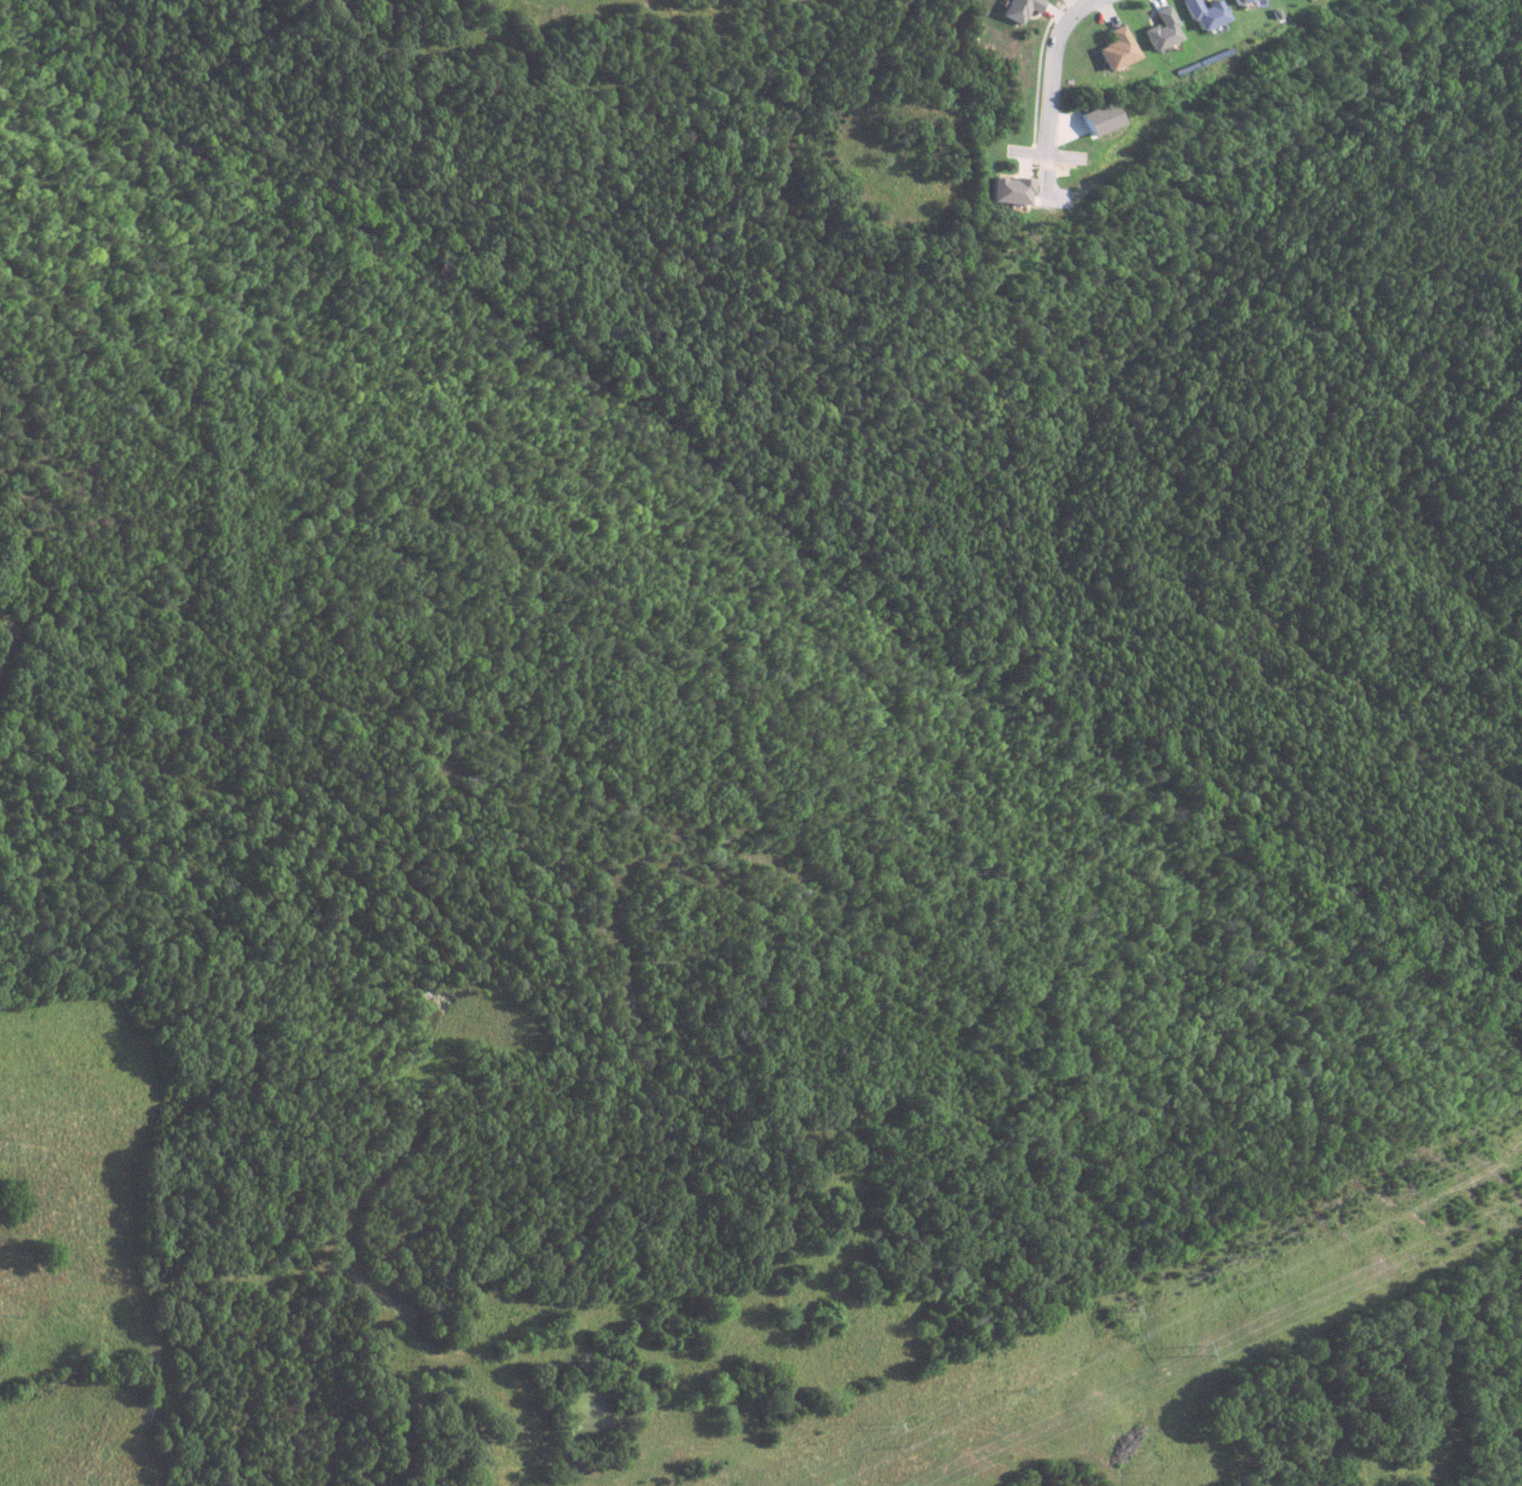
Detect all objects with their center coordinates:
building: (1238, 2)
building: (1021, 9)
building: (1203, 14)
building: (1161, 31)
building: (1117, 49)
road: (1055, 63)
building: (1100, 119)
building: (1010, 191)
power tower: (1125, 1315)
power tower: (891, 1427)

